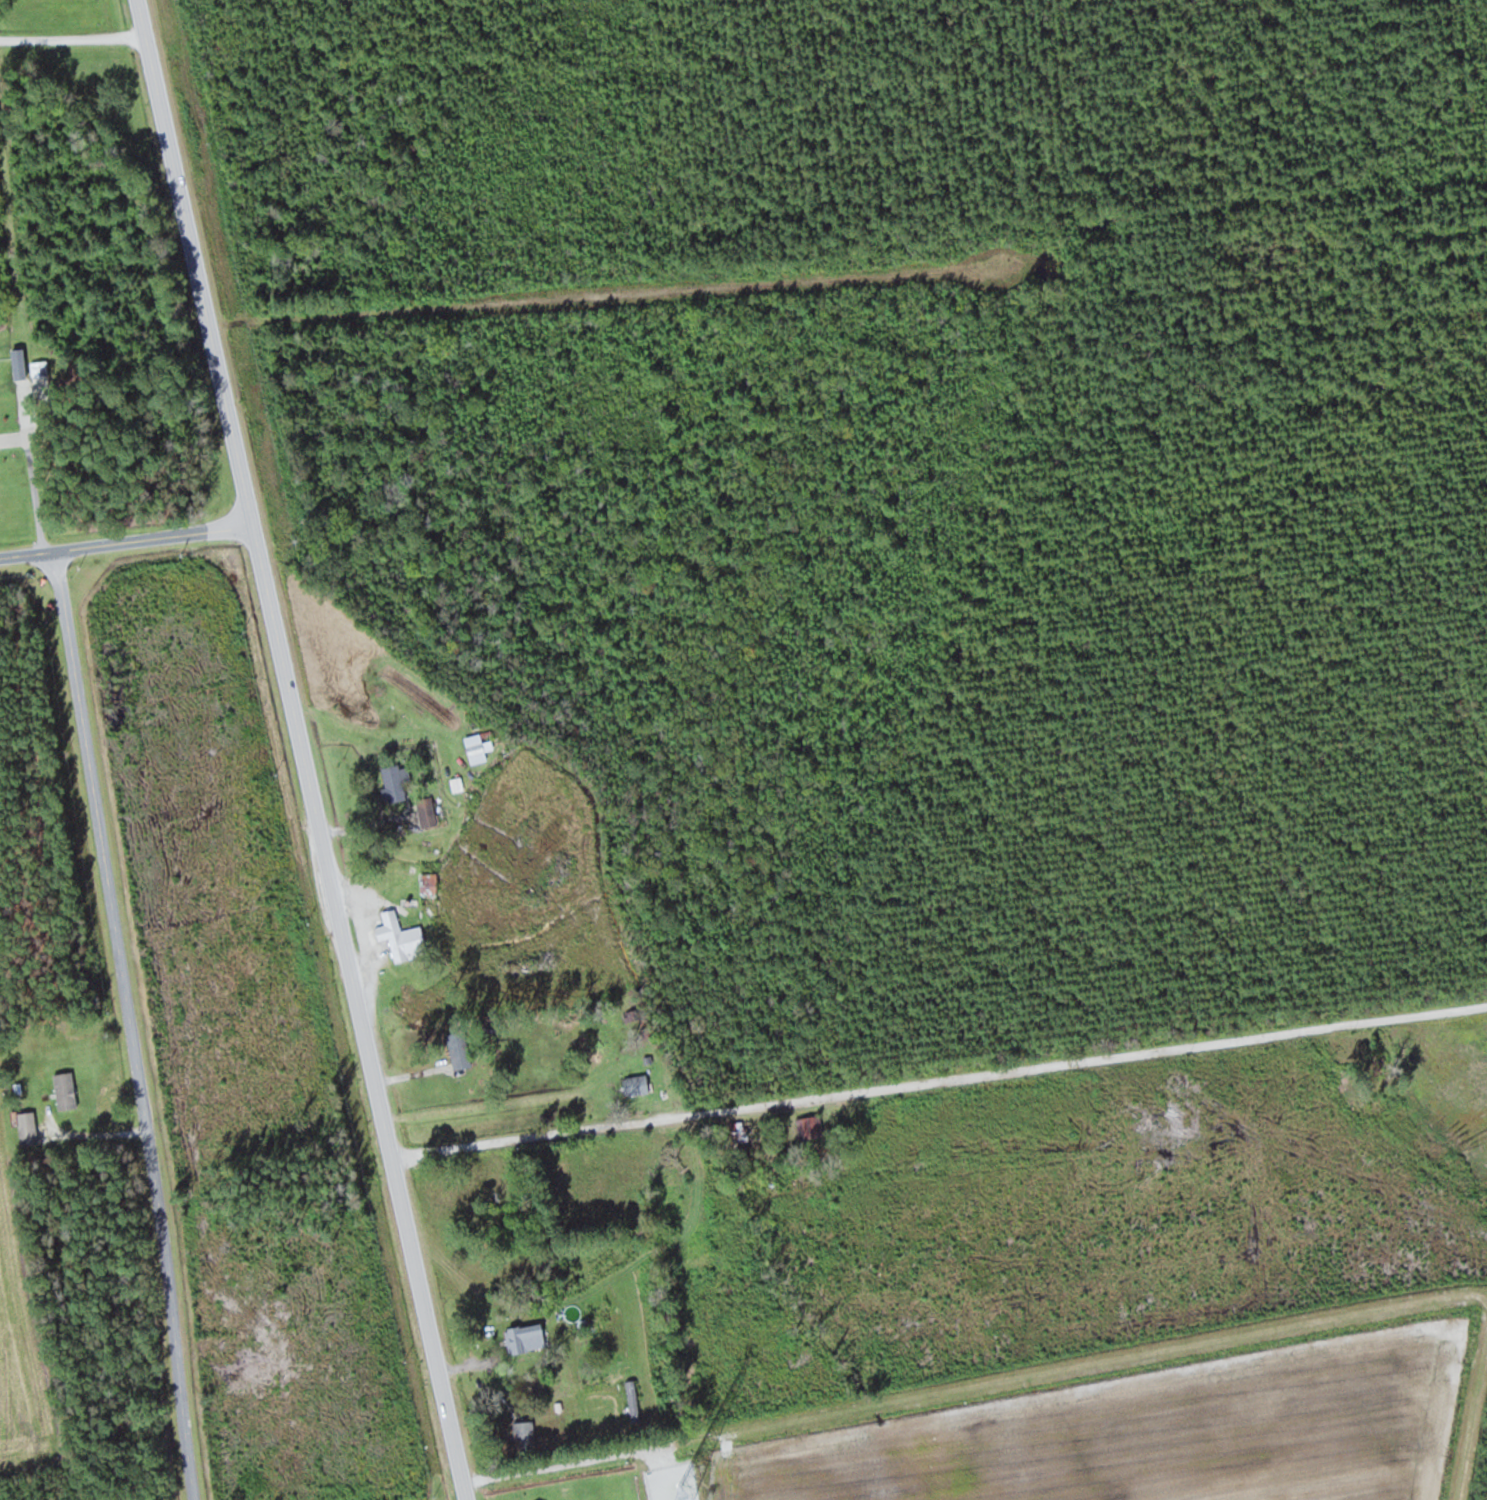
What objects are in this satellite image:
road: (73, 35)
building: (19, 362)
road: (131, 544)
building: (476, 748)
road: (310, 749)
building: (394, 783)
building: (428, 811)
building: (402, 937)
road: (135, 1024)
building: (1380, 1064)
road: (895, 1077)
building: (636, 1084)
building: (66, 1090)
building: (810, 1126)
building: (741, 1130)
building: (29, 1133)
building: (527, 1337)
building: (475, 1364)

